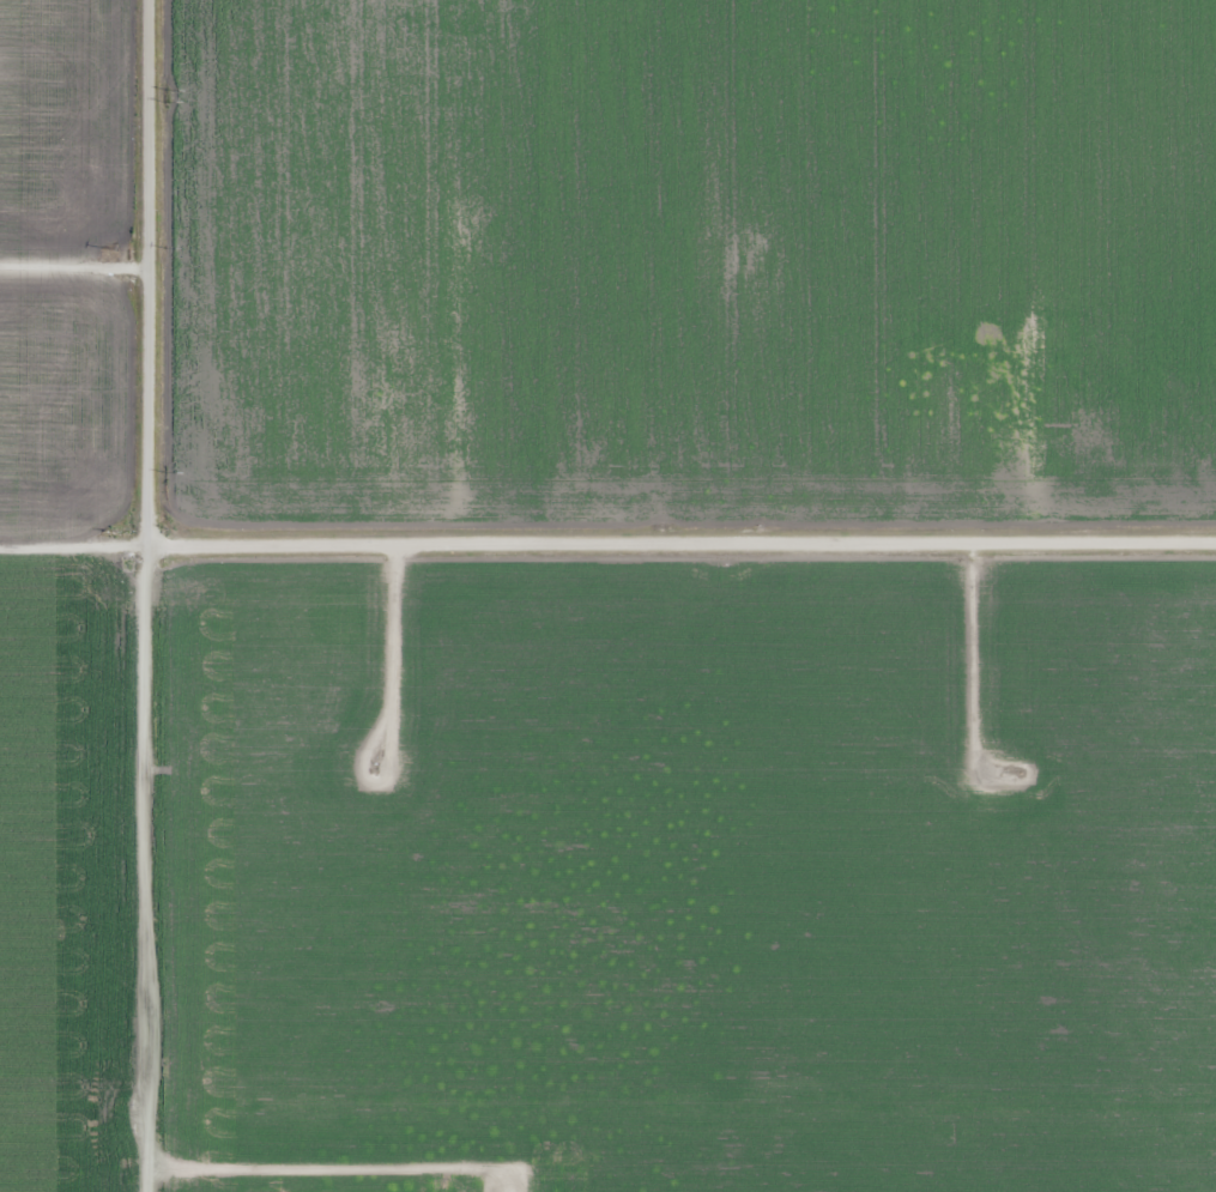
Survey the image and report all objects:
road: (680, 543)
road: (72, 544)
road: (145, 595)

